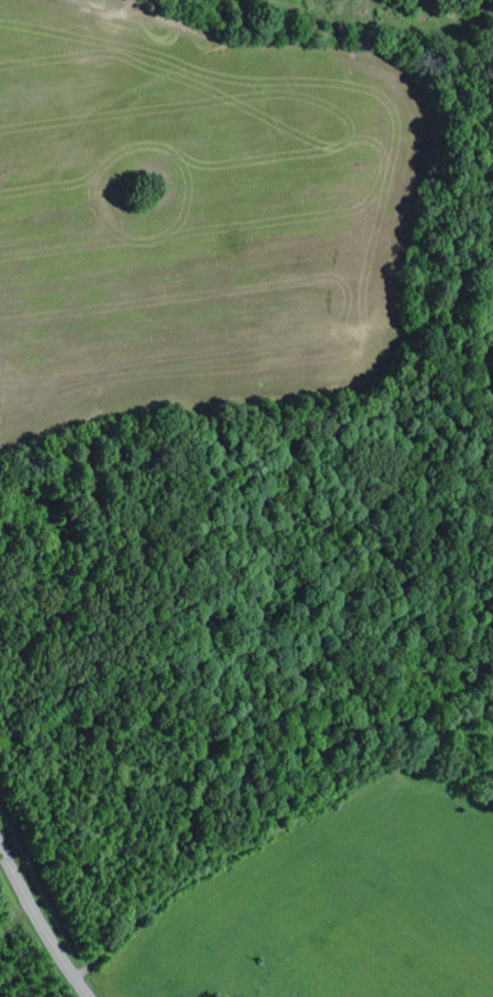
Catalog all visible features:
road: (42, 921)

